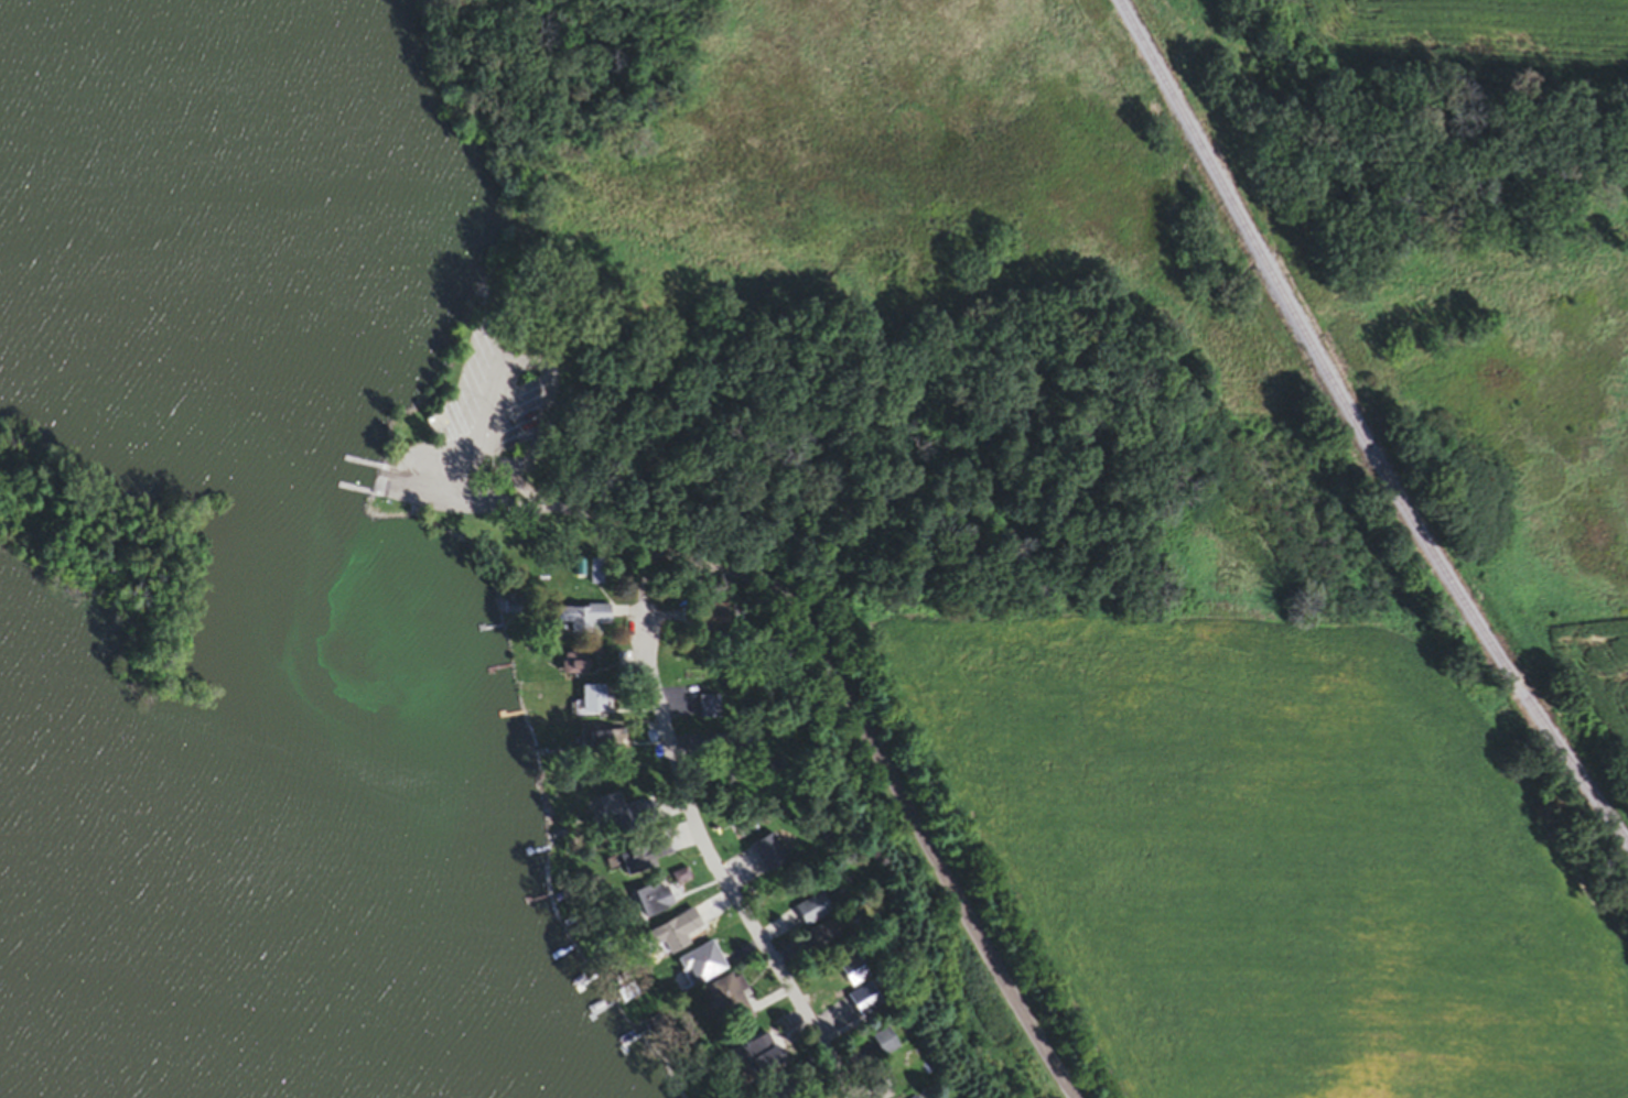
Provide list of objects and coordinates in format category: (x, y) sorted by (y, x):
railway: (1357, 432)
building: (510, 475)
building: (596, 574)
building: (580, 617)
building: (705, 619)
building: (572, 665)
building: (590, 702)
building: (705, 709)
building: (600, 743)
building: (605, 809)
building: (765, 856)
building: (639, 859)
road: (721, 876)
building: (677, 879)
building: (647, 903)
building: (807, 914)
building: (670, 935)
building: (819, 937)
building: (698, 966)
building: (847, 975)
building: (725, 1002)
building: (859, 1003)
building: (877, 1045)
building: (753, 1059)

